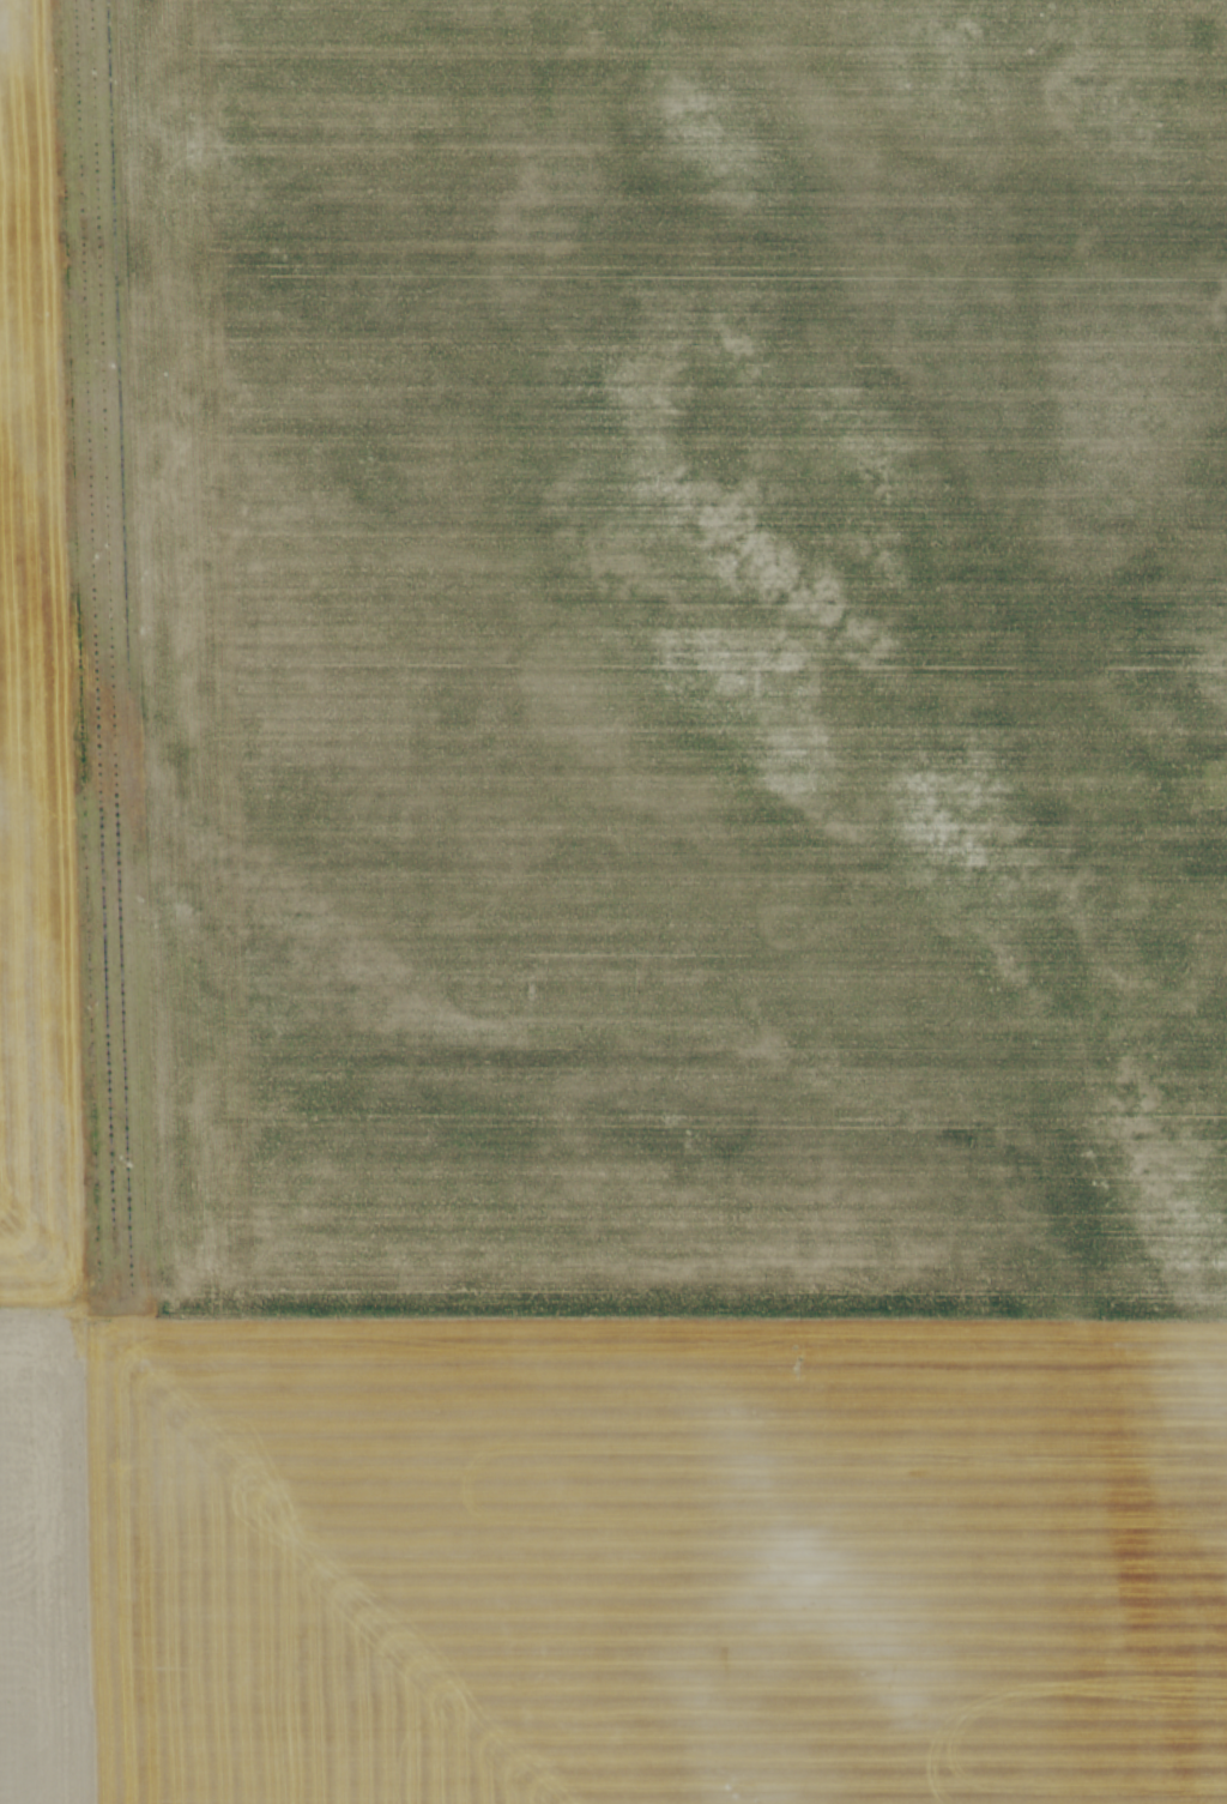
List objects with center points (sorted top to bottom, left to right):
crop: (613, 901)

